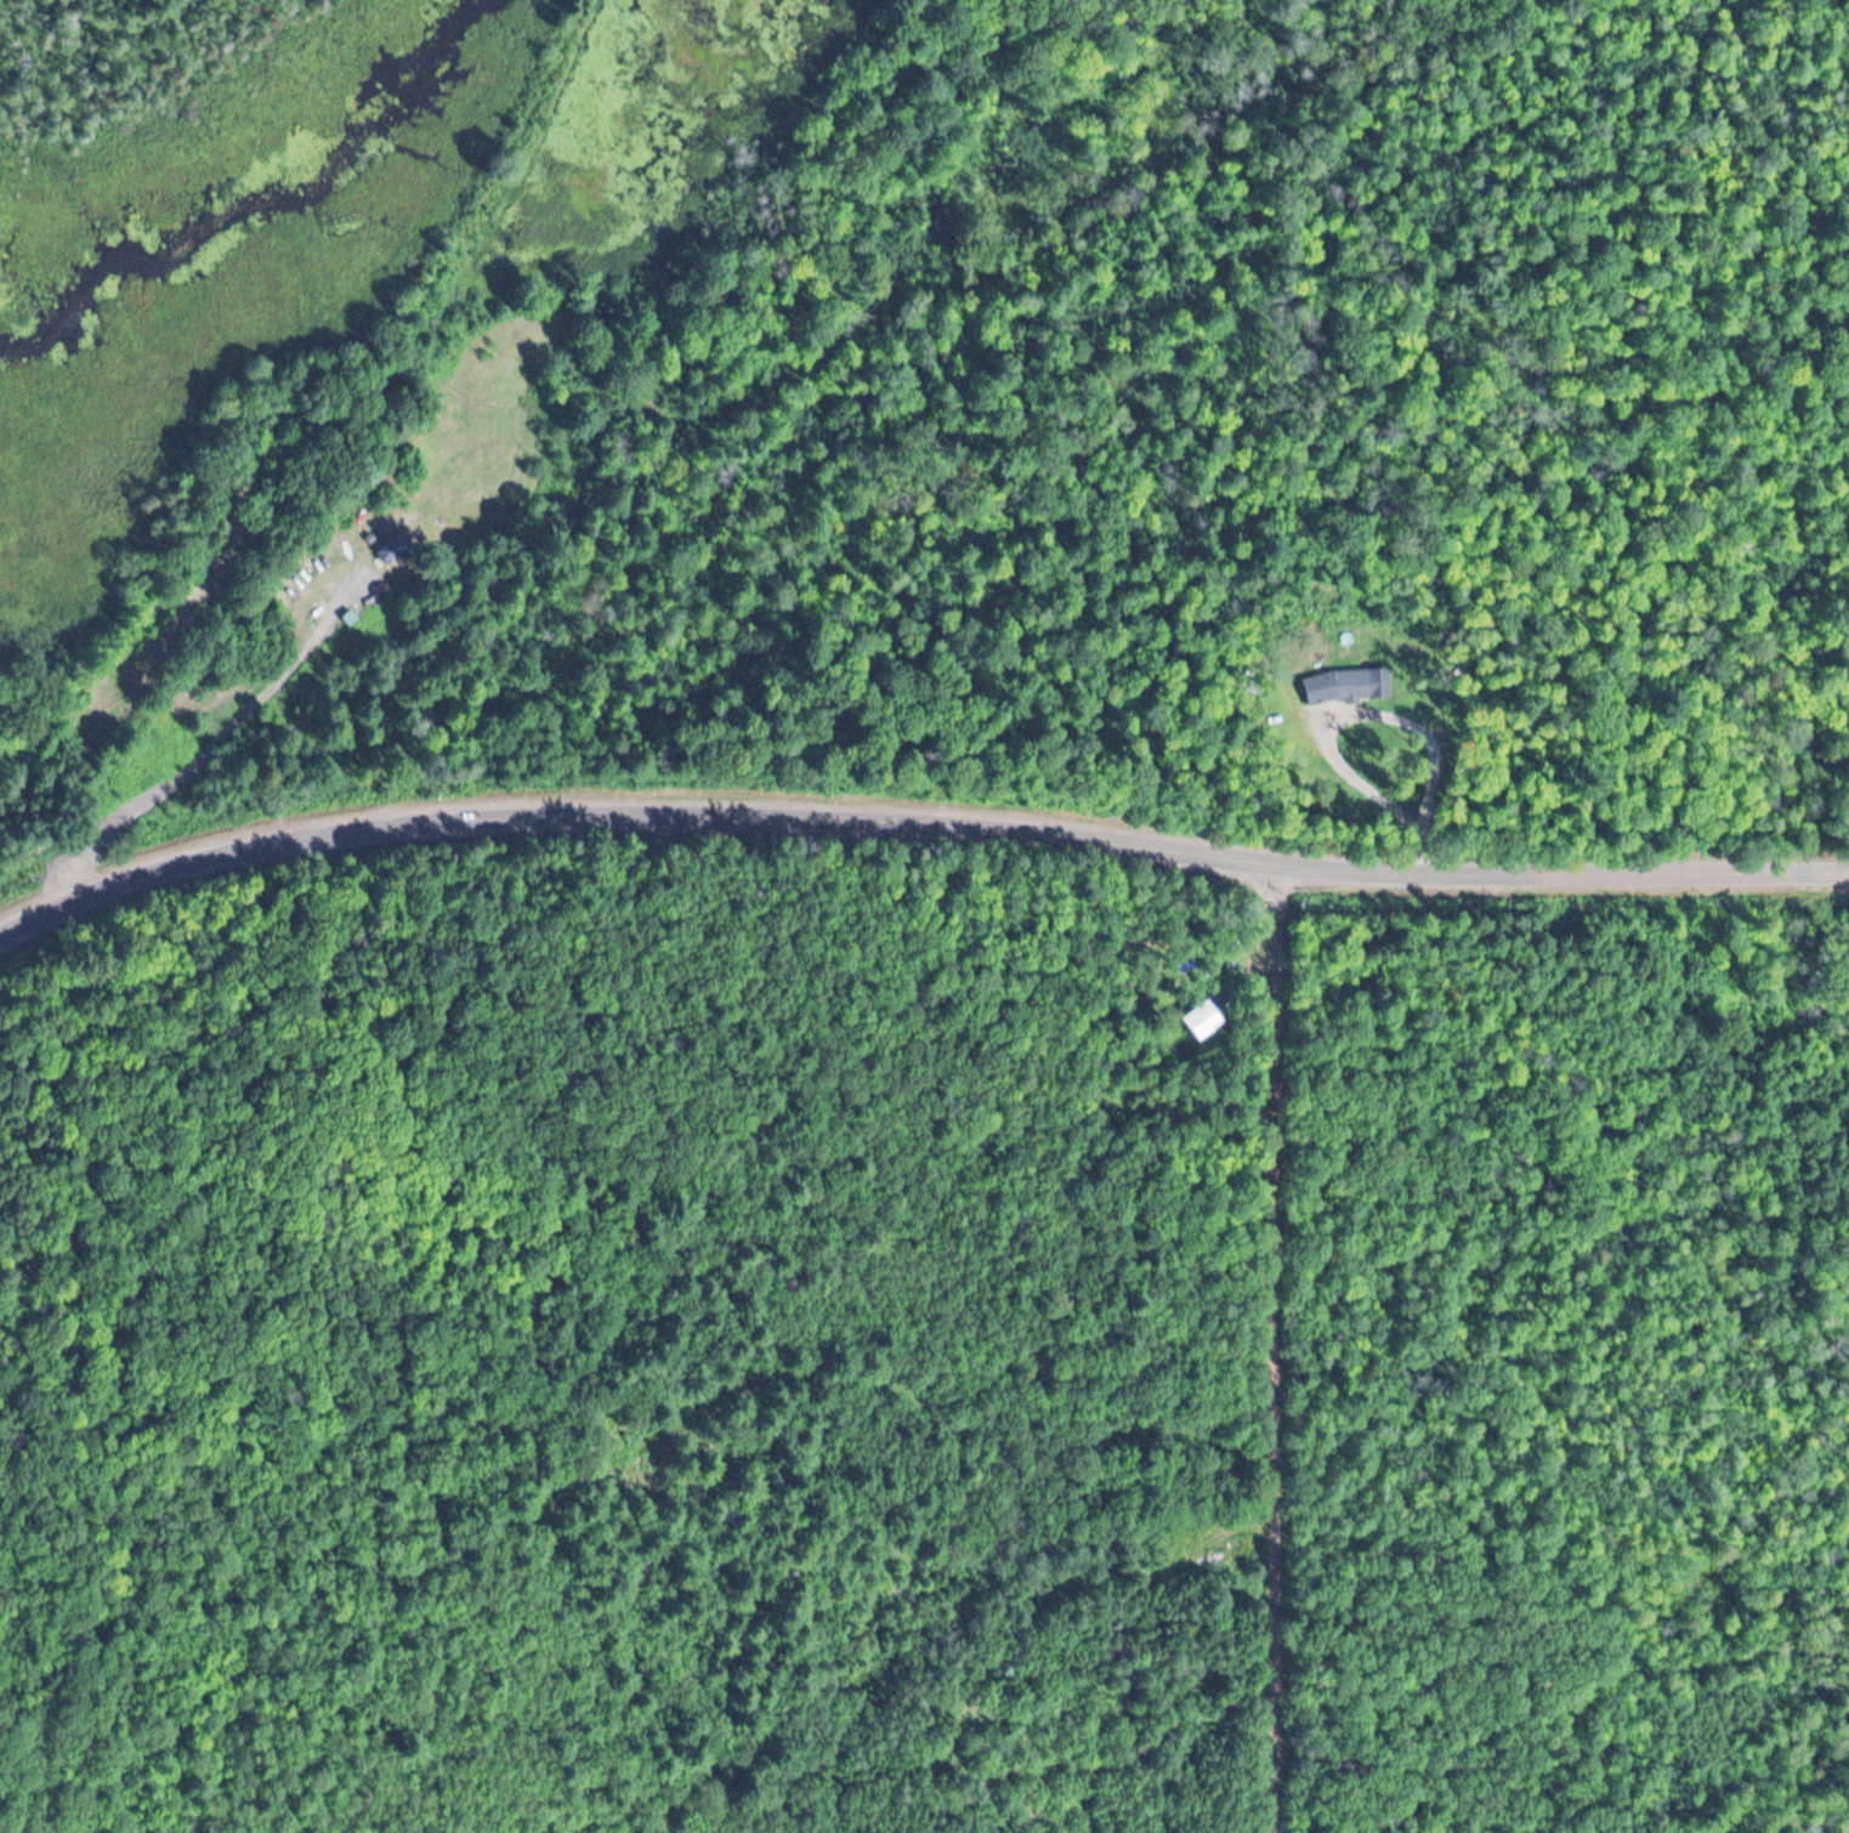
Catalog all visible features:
building: (402, 549)
building: (1350, 682)
road: (209, 750)
road: (918, 811)
building: (1201, 1017)
road: (1274, 1349)

